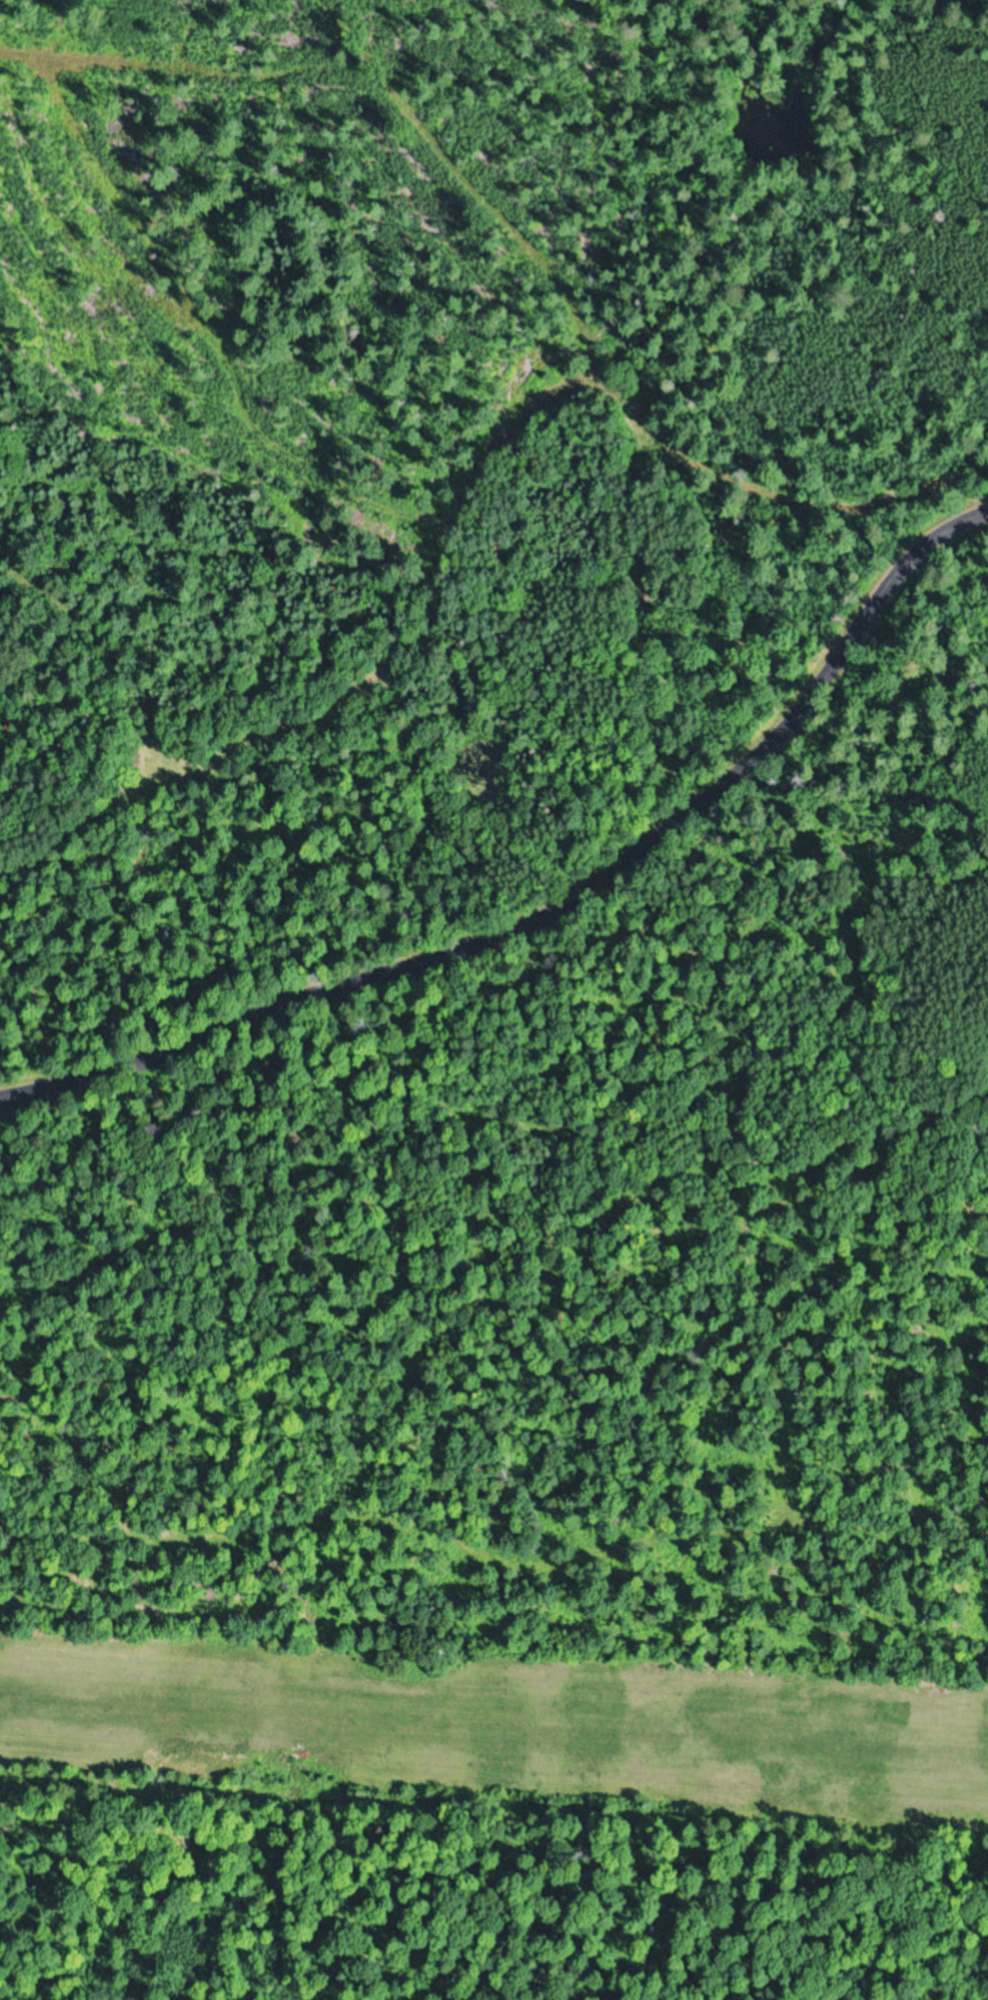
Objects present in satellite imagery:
road: (476, 238)
road: (550, 892)
airport runway: (493, 1724)

